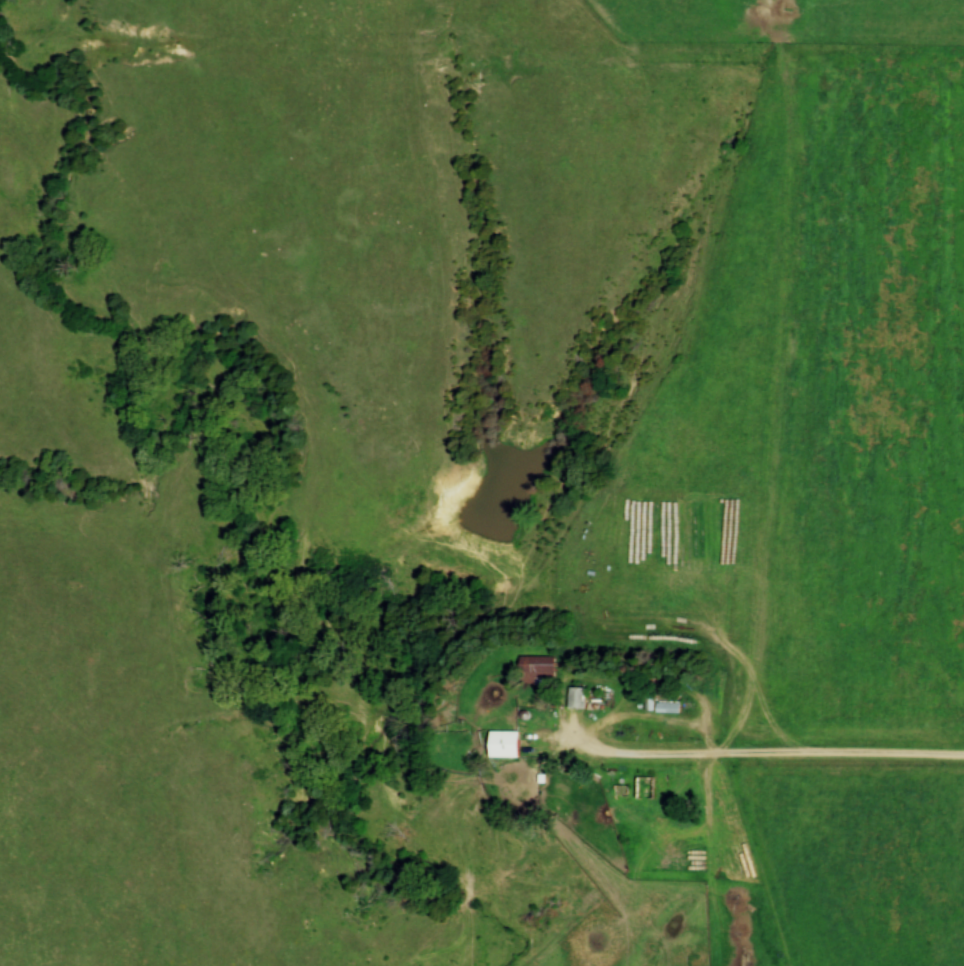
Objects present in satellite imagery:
building: (535, 669)
building: (576, 698)
building: (668, 708)
building: (503, 744)
road: (762, 755)
building: (645, 788)

